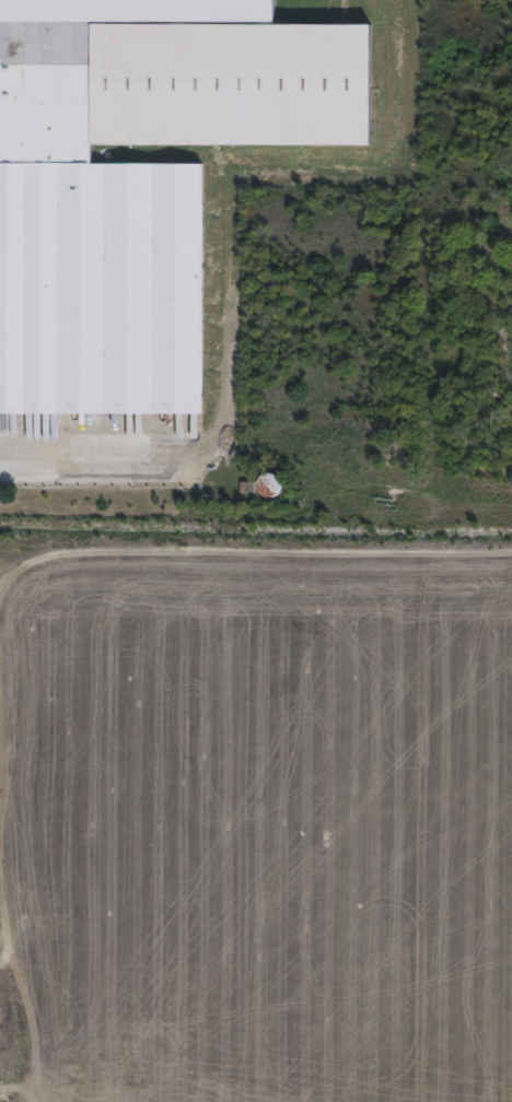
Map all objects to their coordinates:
building: (139, 179)
crop: (255, 819)

